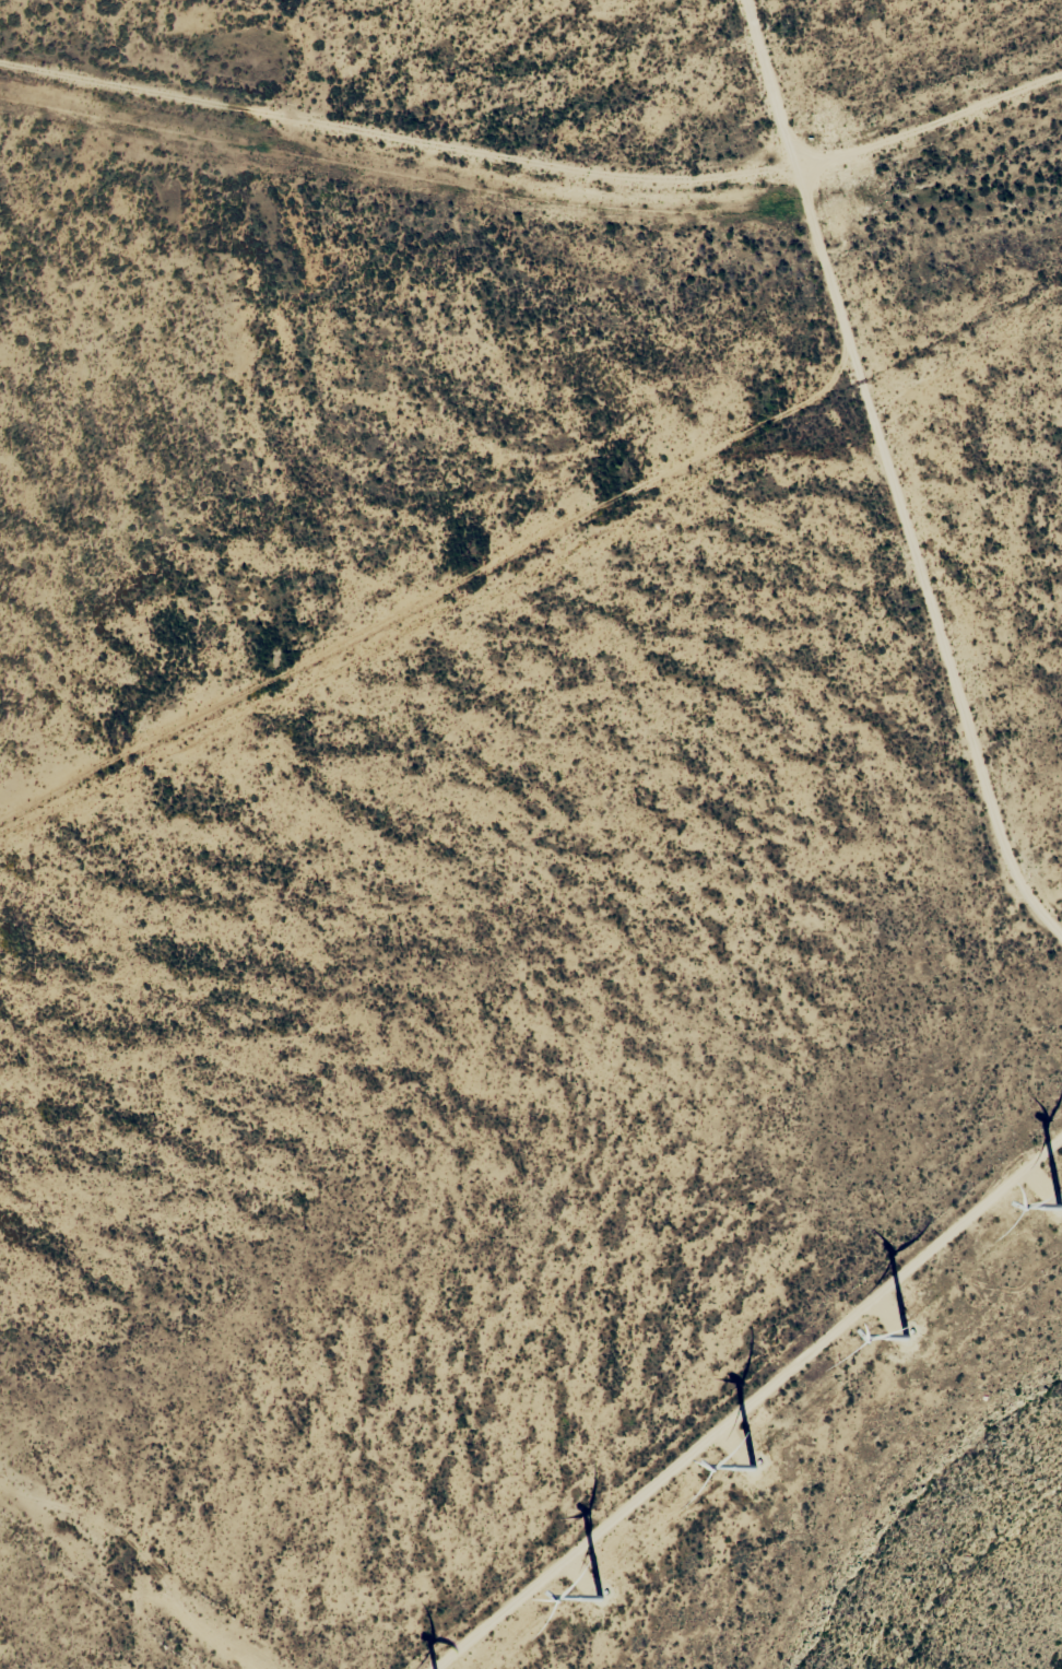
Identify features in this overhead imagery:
wind turbine: (1052, 1199)
wind turbine: (904, 1350)
wind turbine: (748, 1466)
wind turbine: (598, 1608)

